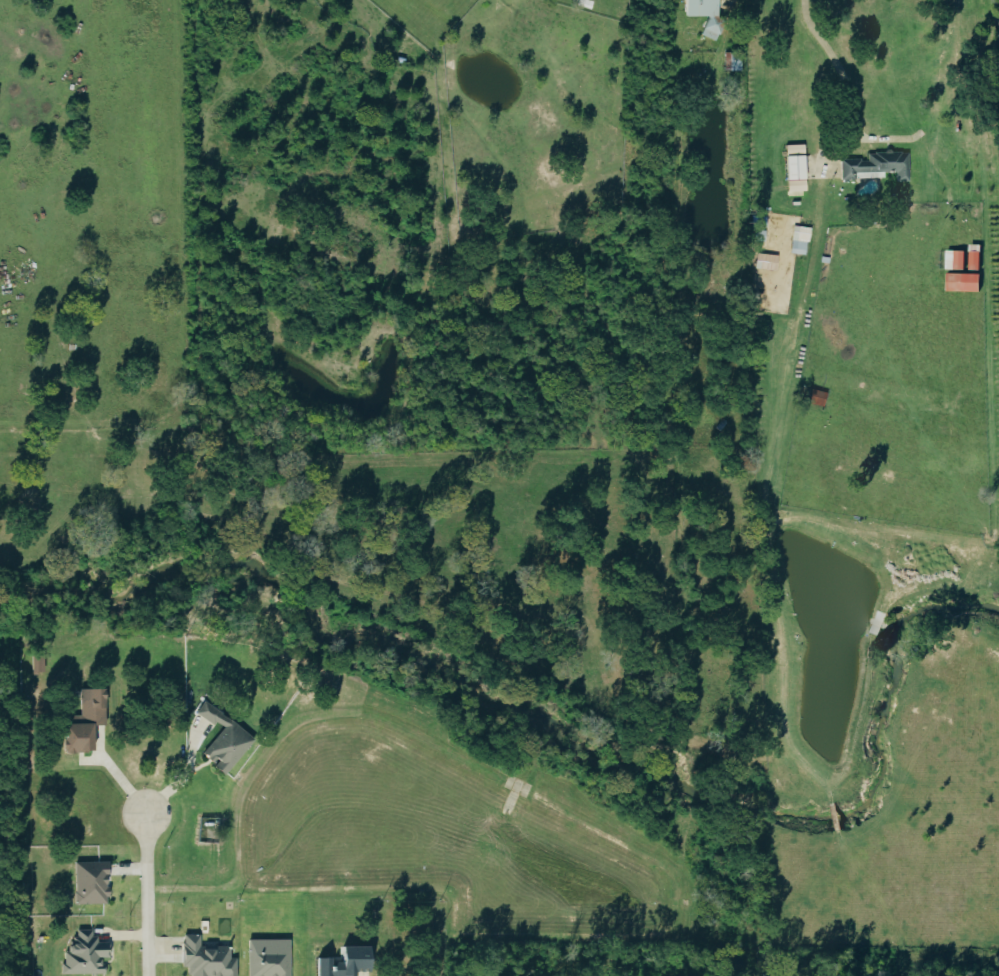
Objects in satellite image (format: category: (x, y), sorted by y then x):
building: (700, 7)
road: (841, 65)
road: (860, 138)
building: (876, 166)
building: (794, 170)
building: (800, 241)
building: (973, 257)
building: (954, 260)
building: (816, 398)
road: (767, 487)
crop: (877, 578)
building: (37, 663)
building: (81, 722)
building: (222, 739)
river: (571, 743)
road: (834, 816)
building: (89, 882)
road: (147, 895)
building: (84, 954)
building: (267, 957)
building: (204, 958)
building: (342, 962)

